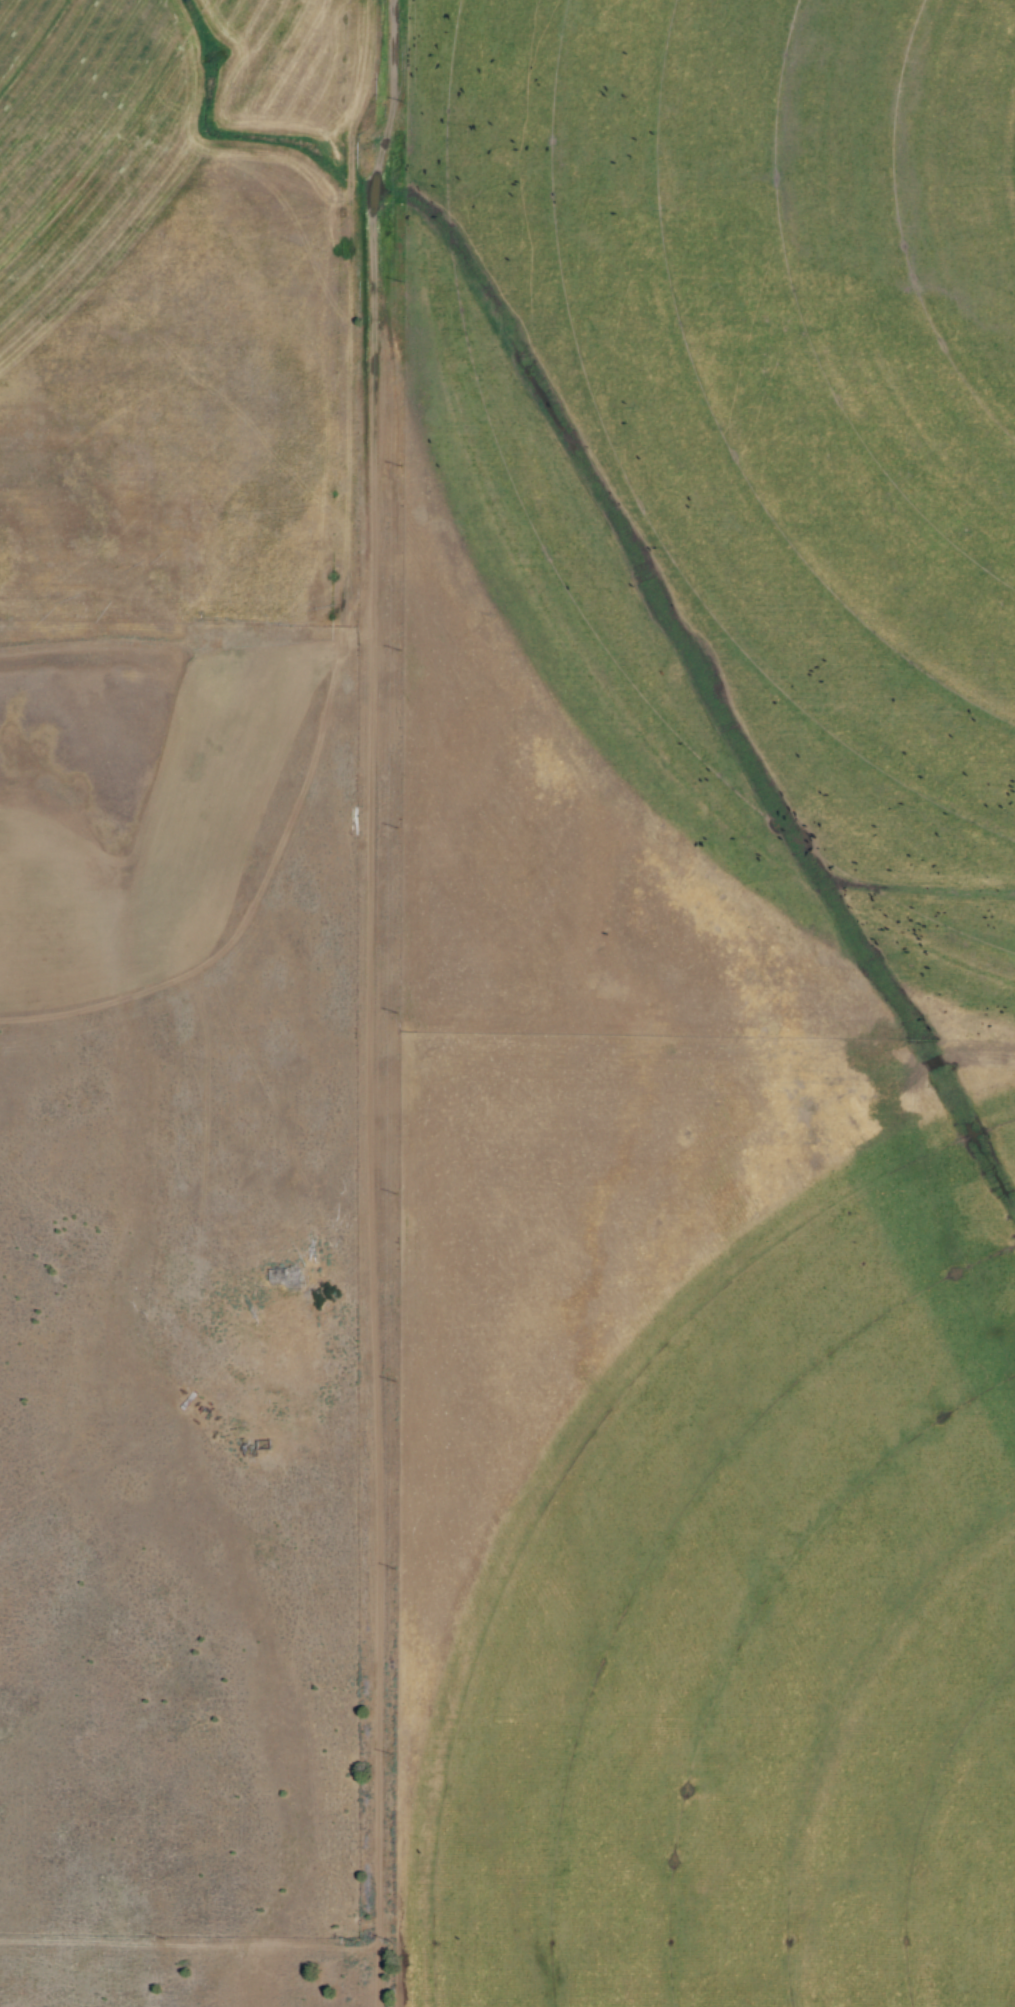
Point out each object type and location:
crop: (173, 68)
crop: (174, 379)
crop: (741, 440)
crop: (144, 796)
road: (370, 1002)
crop: (747, 1608)

